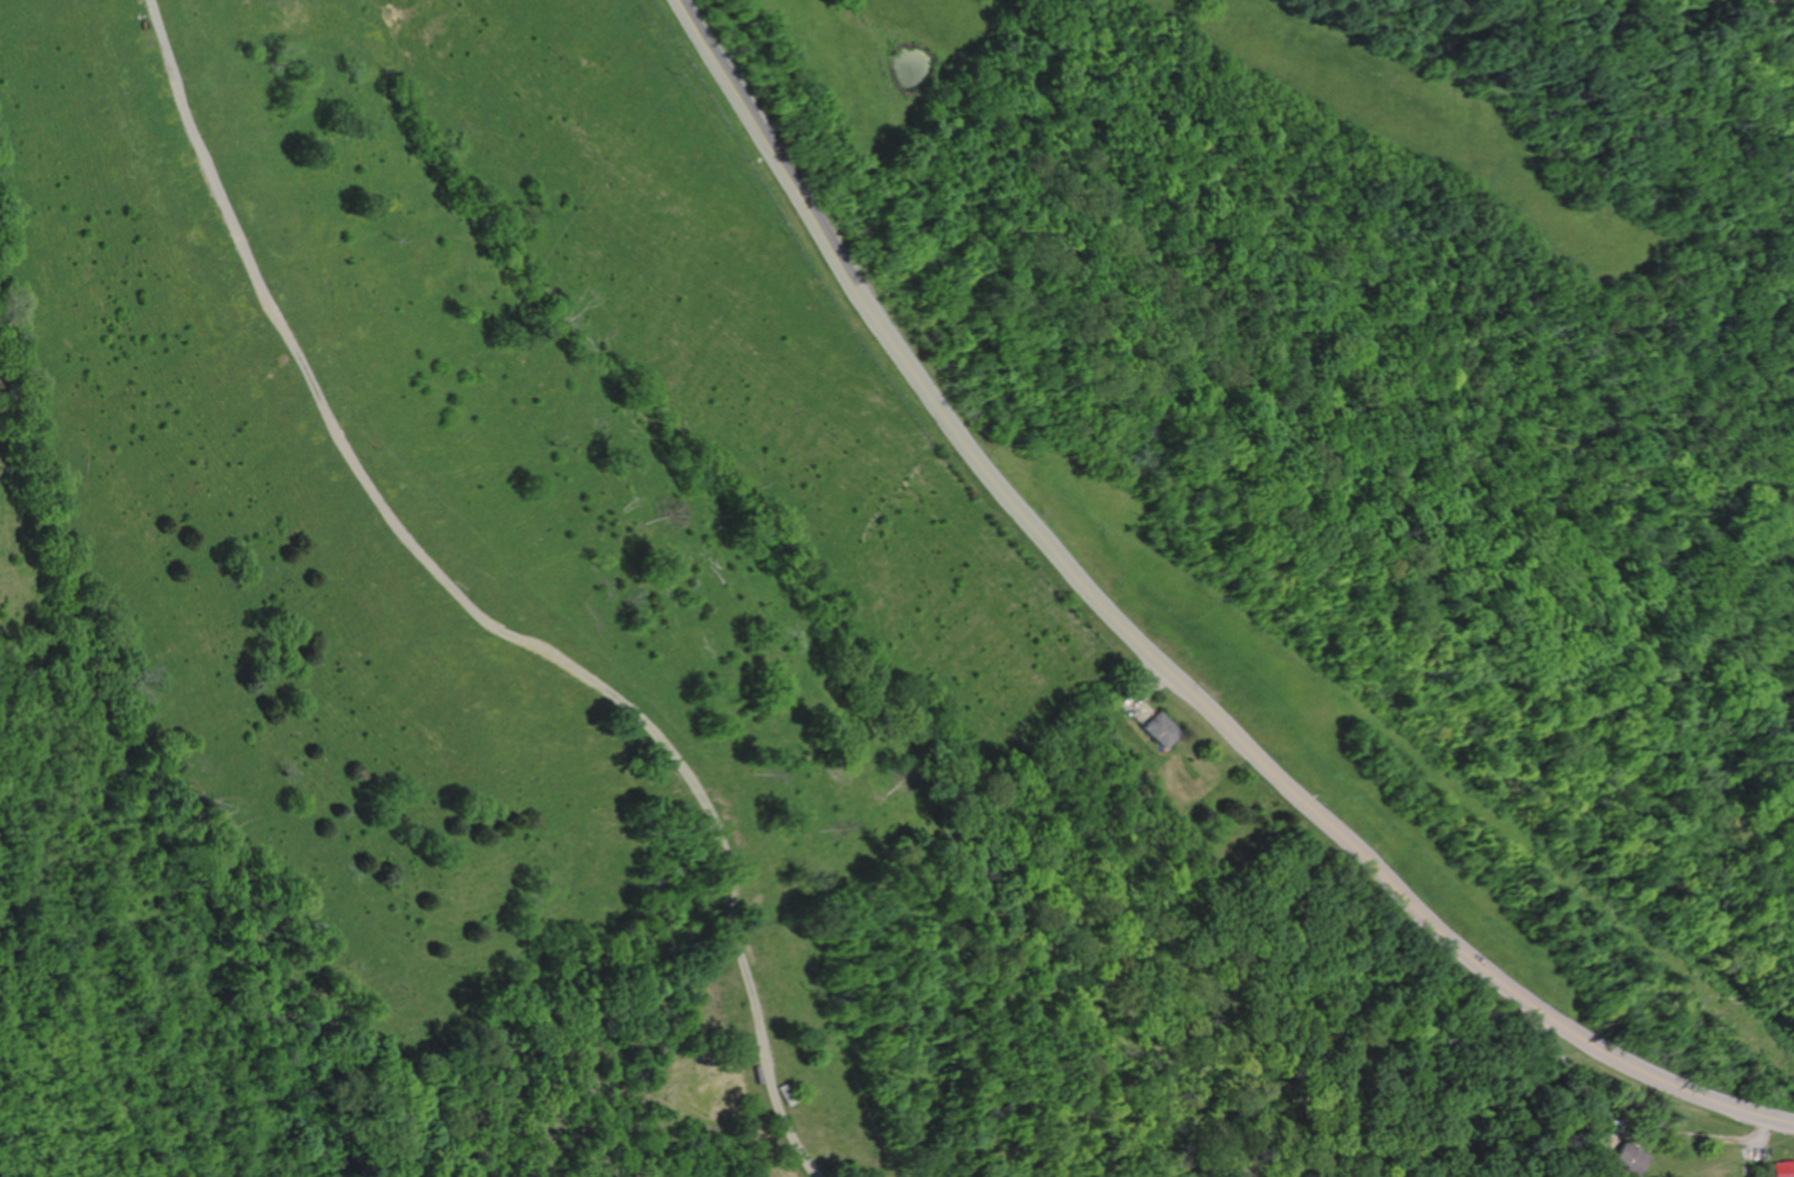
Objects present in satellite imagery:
road: (1520, 165)
road: (468, 612)
road: (1146, 655)
road: (1134, 695)
building: (1161, 728)
road: (1626, 1129)
road: (1756, 1147)
building: (1632, 1158)
building: (1784, 1169)

